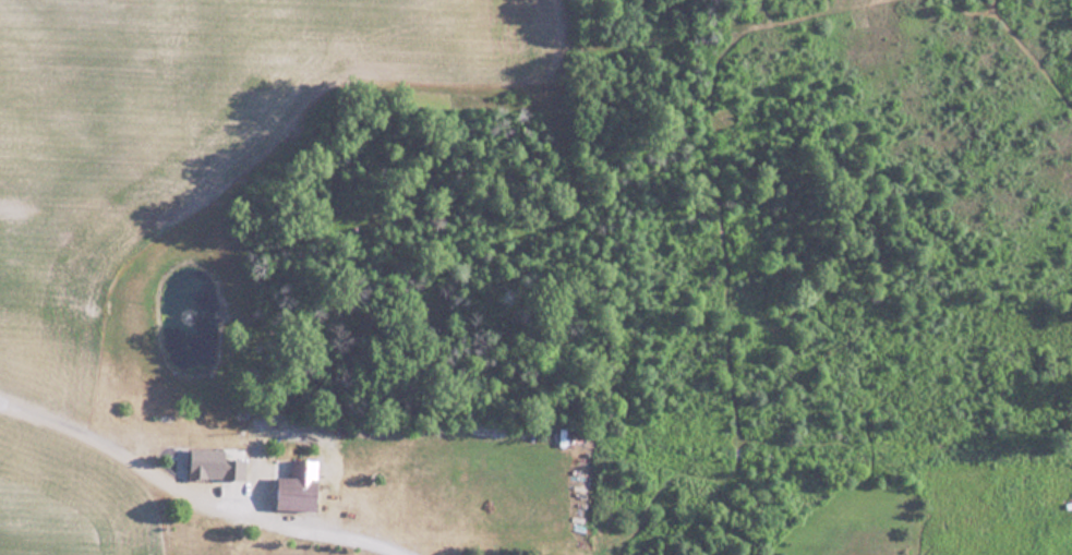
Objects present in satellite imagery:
building: (215, 461)
road: (194, 491)
building: (300, 492)

